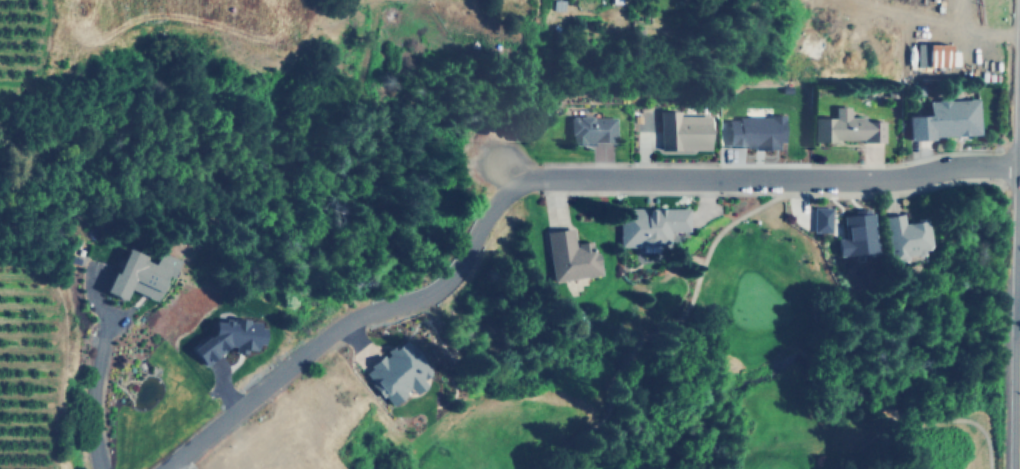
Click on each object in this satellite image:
building: (931, 54)
building: (944, 119)
building: (849, 127)
building: (590, 130)
building: (682, 130)
building: (752, 132)
road: (765, 177)
road: (787, 185)
road: (657, 191)
road: (898, 192)
road: (484, 210)
building: (819, 219)
building: (648, 225)
building: (855, 234)
building: (904, 237)
road: (715, 244)
building: (568, 256)
building: (139, 274)
road: (654, 330)
building: (226, 338)
road: (680, 345)
road: (628, 363)
road: (272, 370)
park: (736, 371)
building: (396, 372)
road: (689, 382)
road: (88, 391)
road: (927, 420)
road: (697, 423)
road: (588, 427)
road: (693, 461)
road: (1019, 461)

